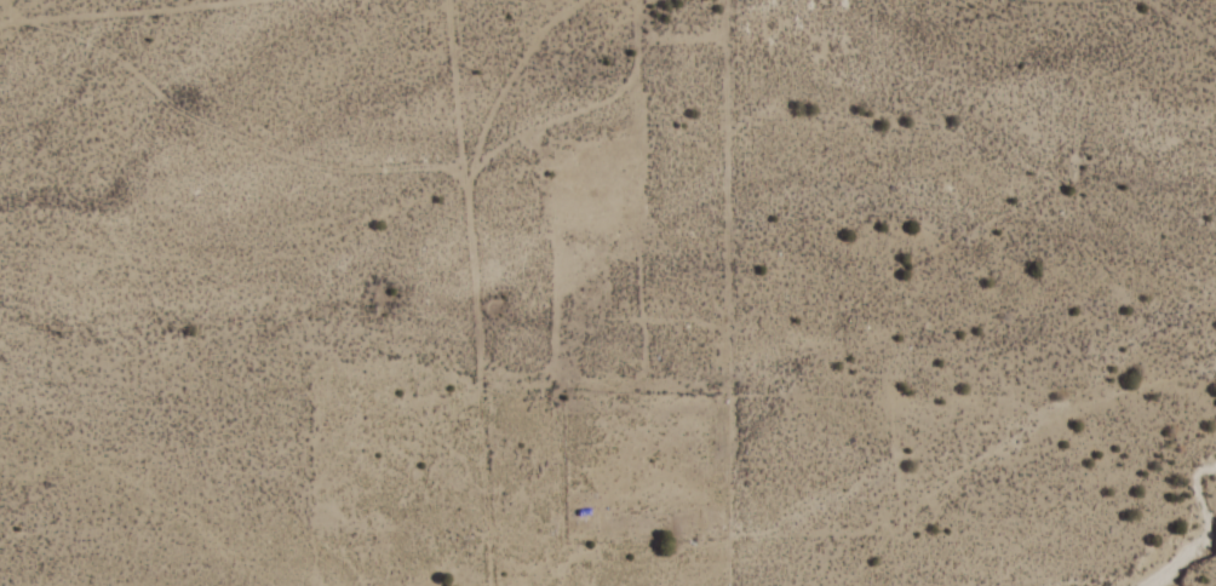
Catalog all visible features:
road: (591, 68)
road: (493, 293)
road: (632, 358)
river: (1199, 559)

